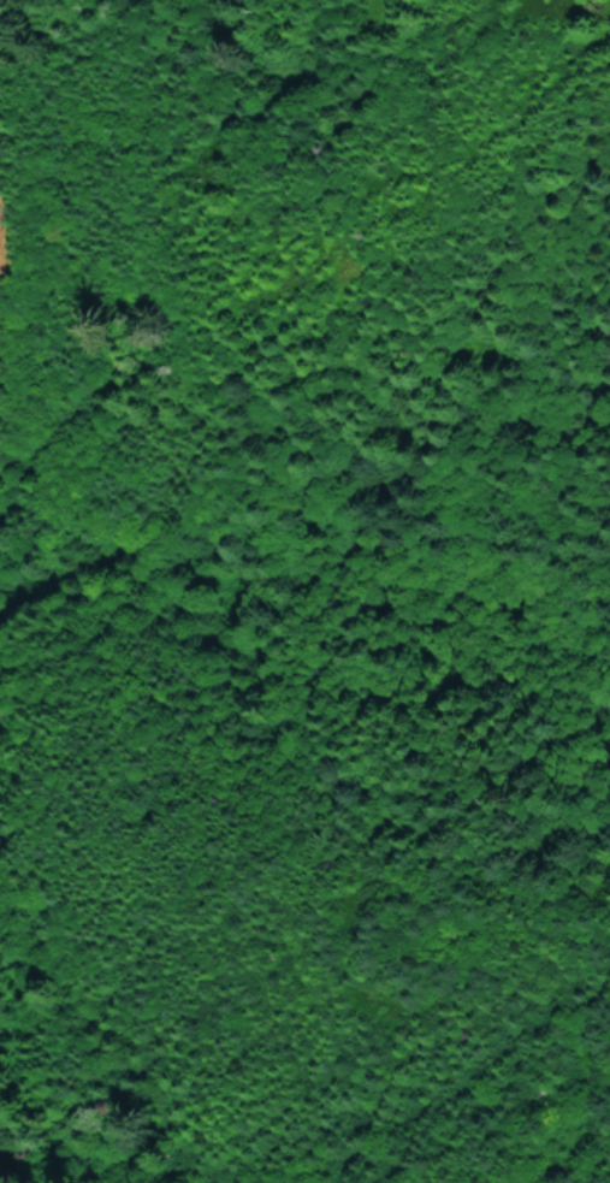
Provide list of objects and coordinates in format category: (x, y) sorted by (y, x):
road: (544, 1136)

